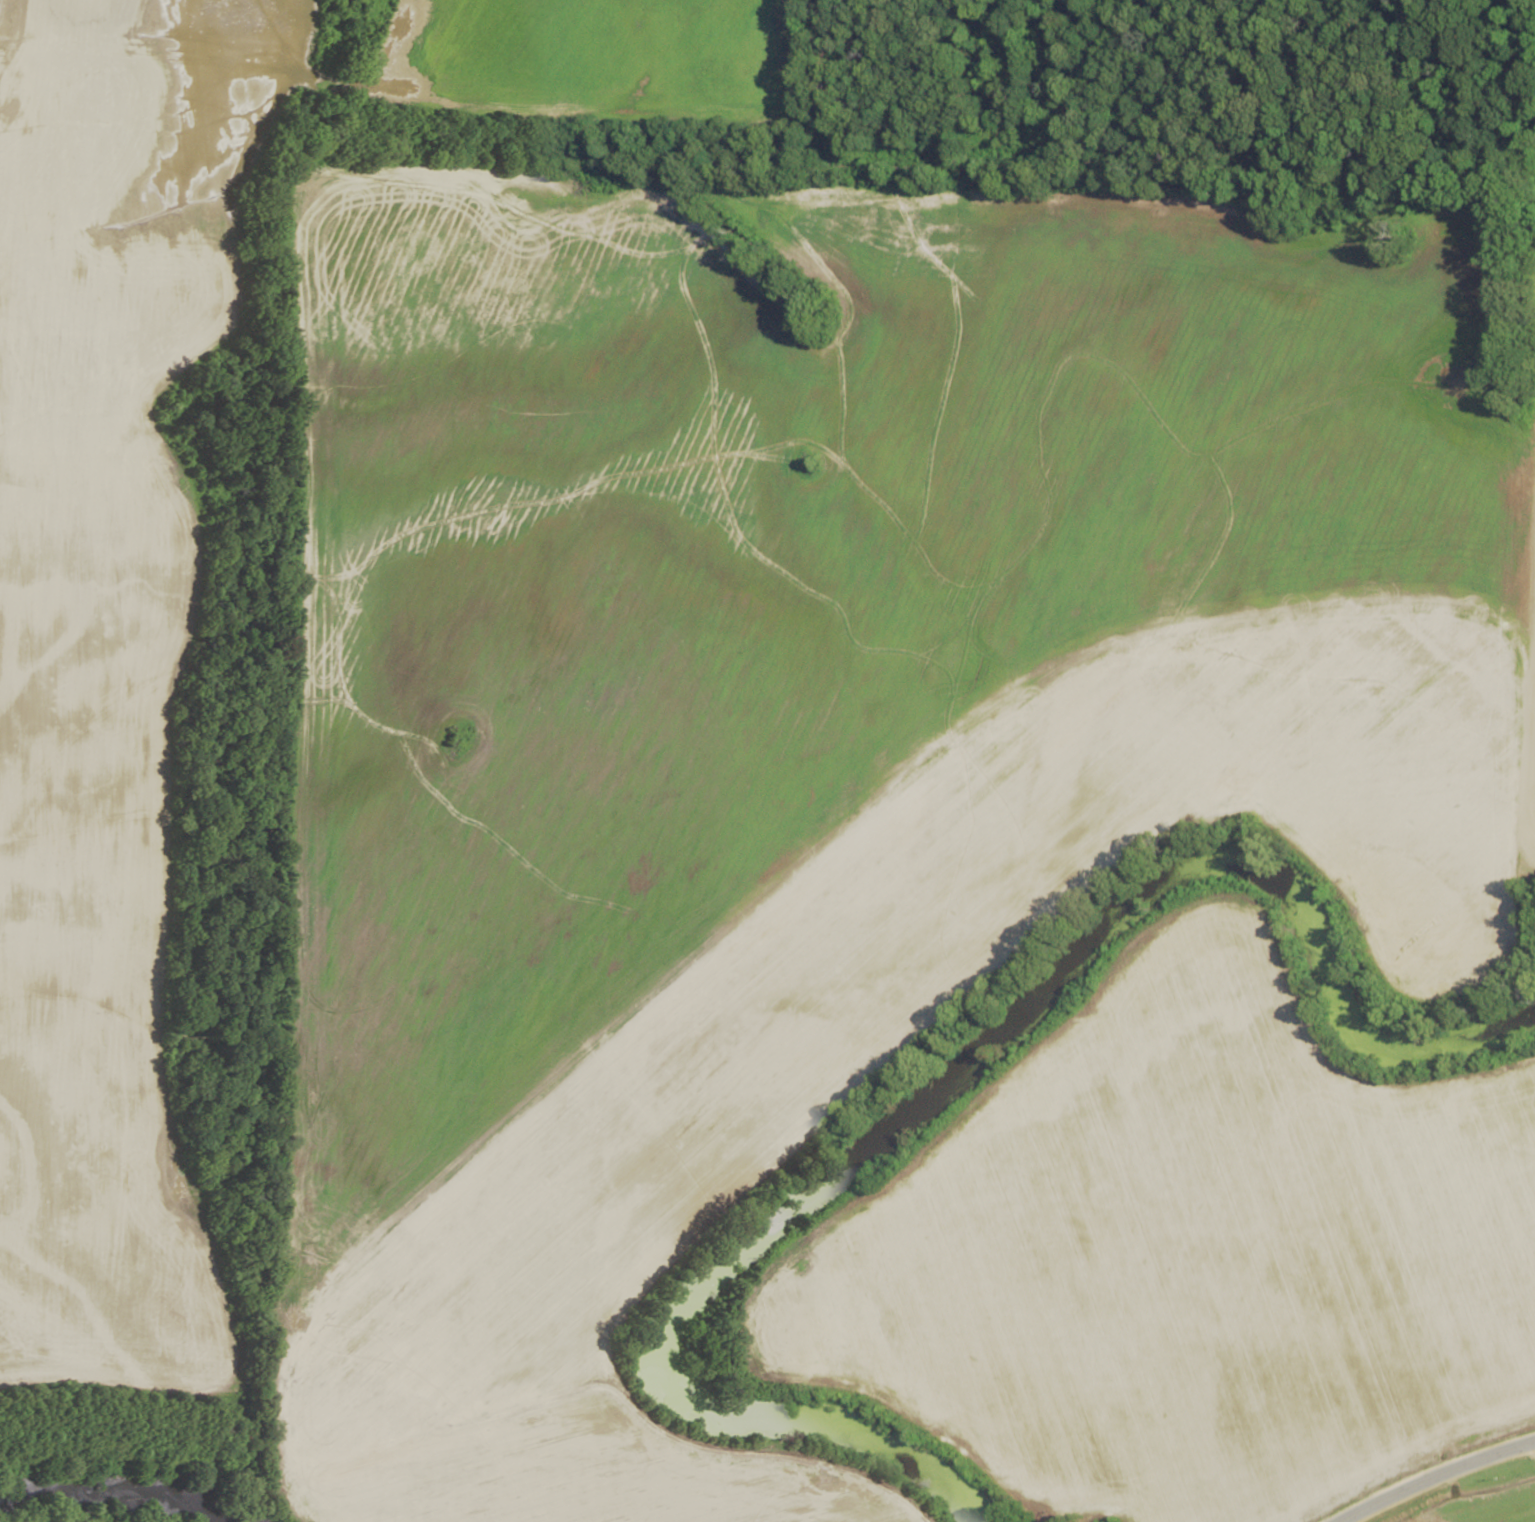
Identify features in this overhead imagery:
road: (439, 1441)
road: (1534, 1449)
road: (1432, 1475)

